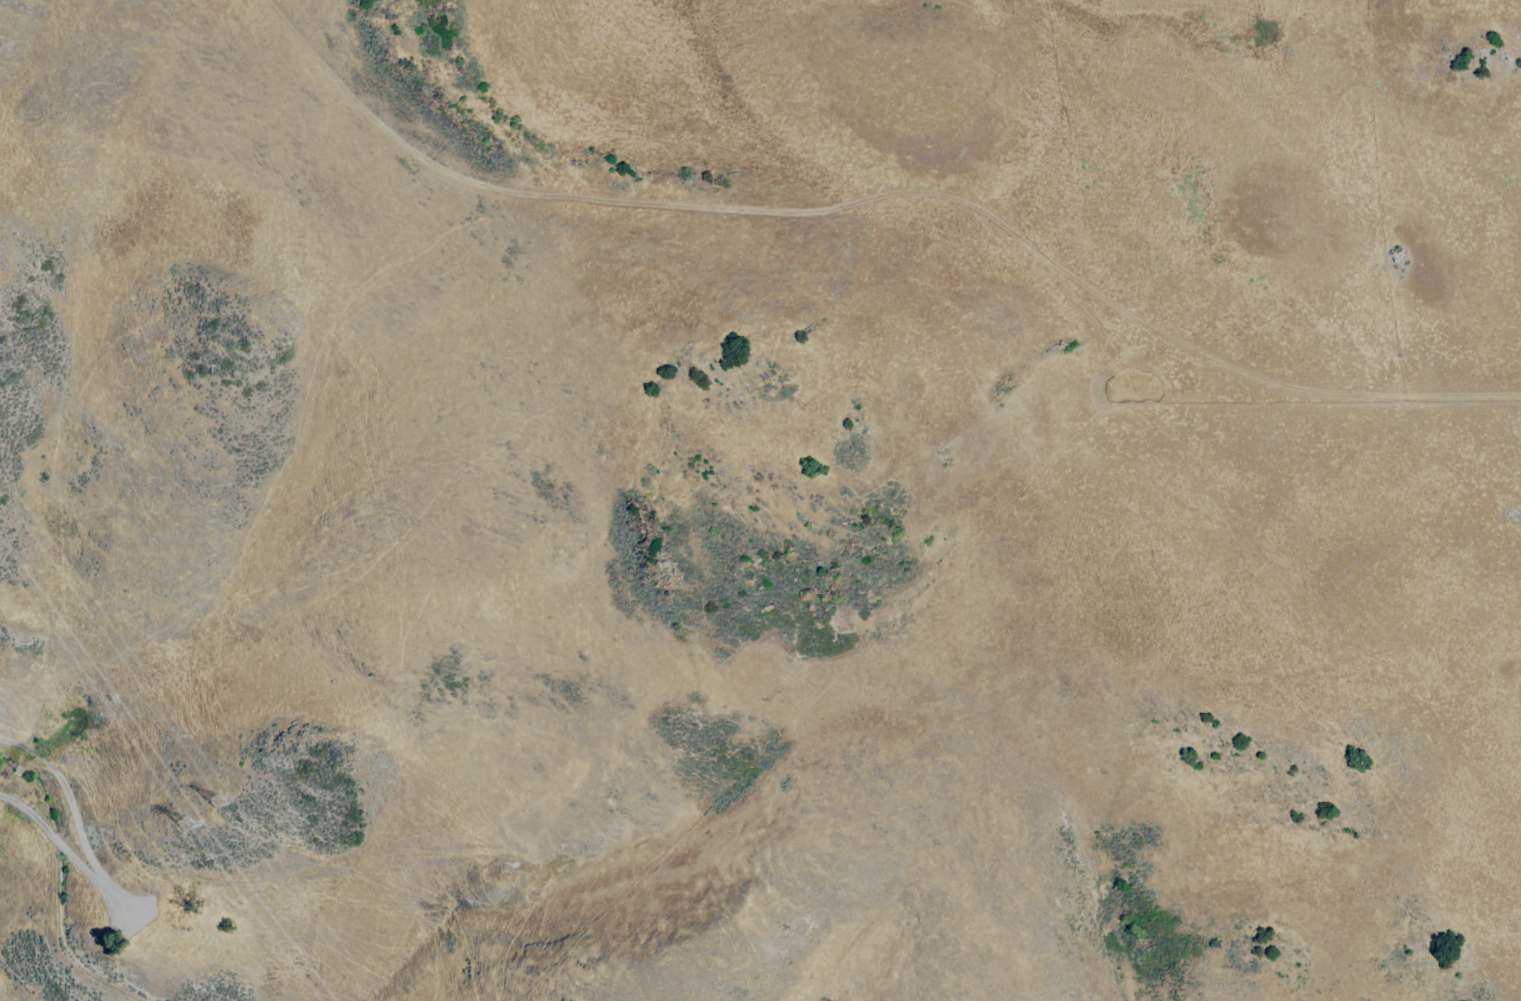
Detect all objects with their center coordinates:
power tower: (216, 806)
power tower: (185, 826)
road: (98, 870)

